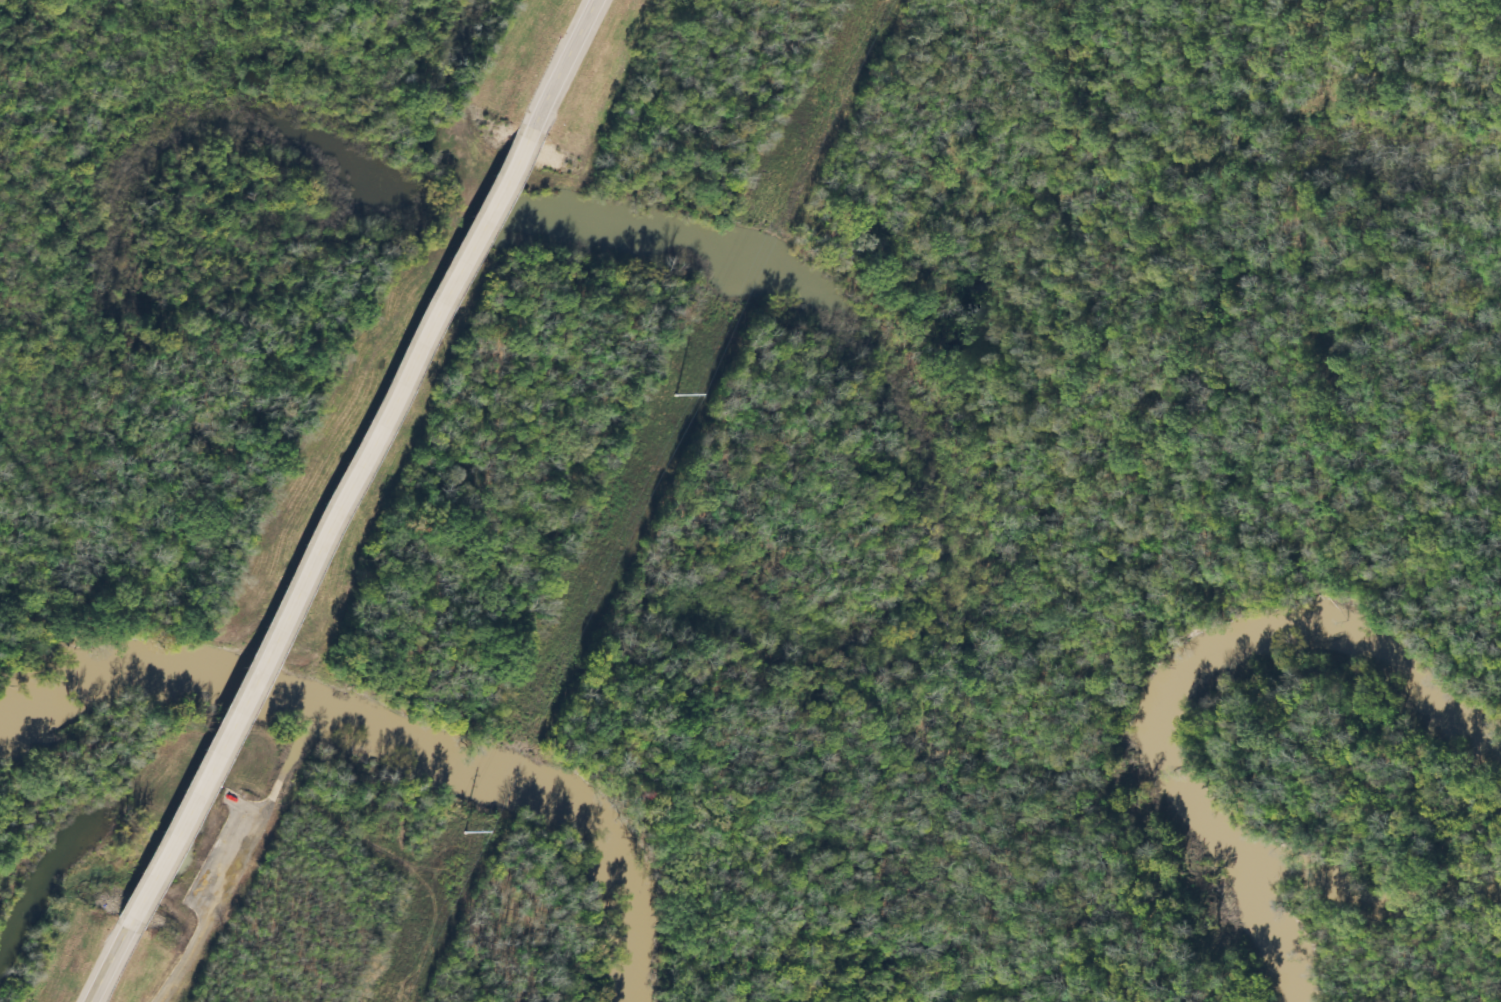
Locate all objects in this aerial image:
road: (561, 64)
power tower: (761, 220)
road: (325, 524)
power tower: (562, 627)
river: (1172, 665)
river: (394, 735)
road: (103, 961)

